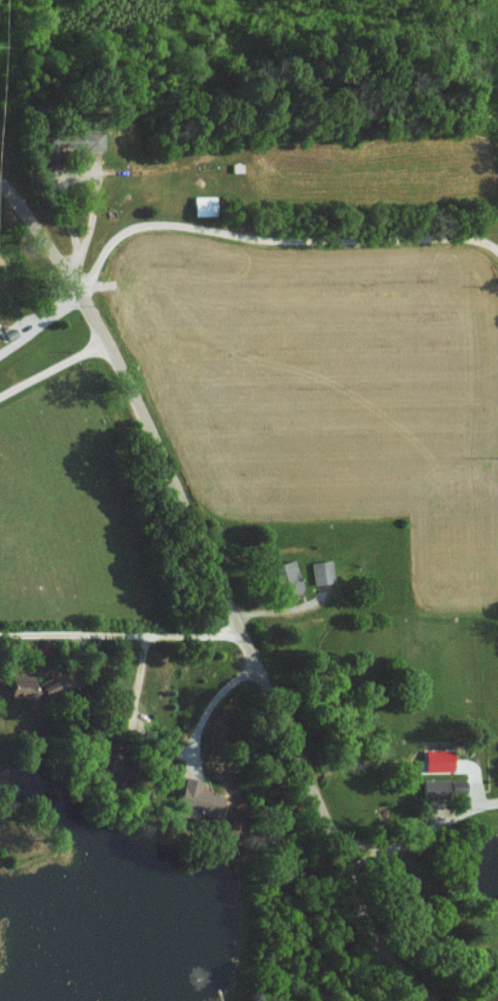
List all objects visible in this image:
building: (76, 140)
building: (205, 205)
road: (271, 238)
road: (39, 321)
road: (53, 366)
building: (323, 572)
building: (288, 577)
road: (220, 587)
road: (271, 612)
road: (120, 630)
building: (23, 686)
building: (49, 687)
road: (203, 711)
building: (443, 788)
building: (199, 798)
road: (419, 833)

